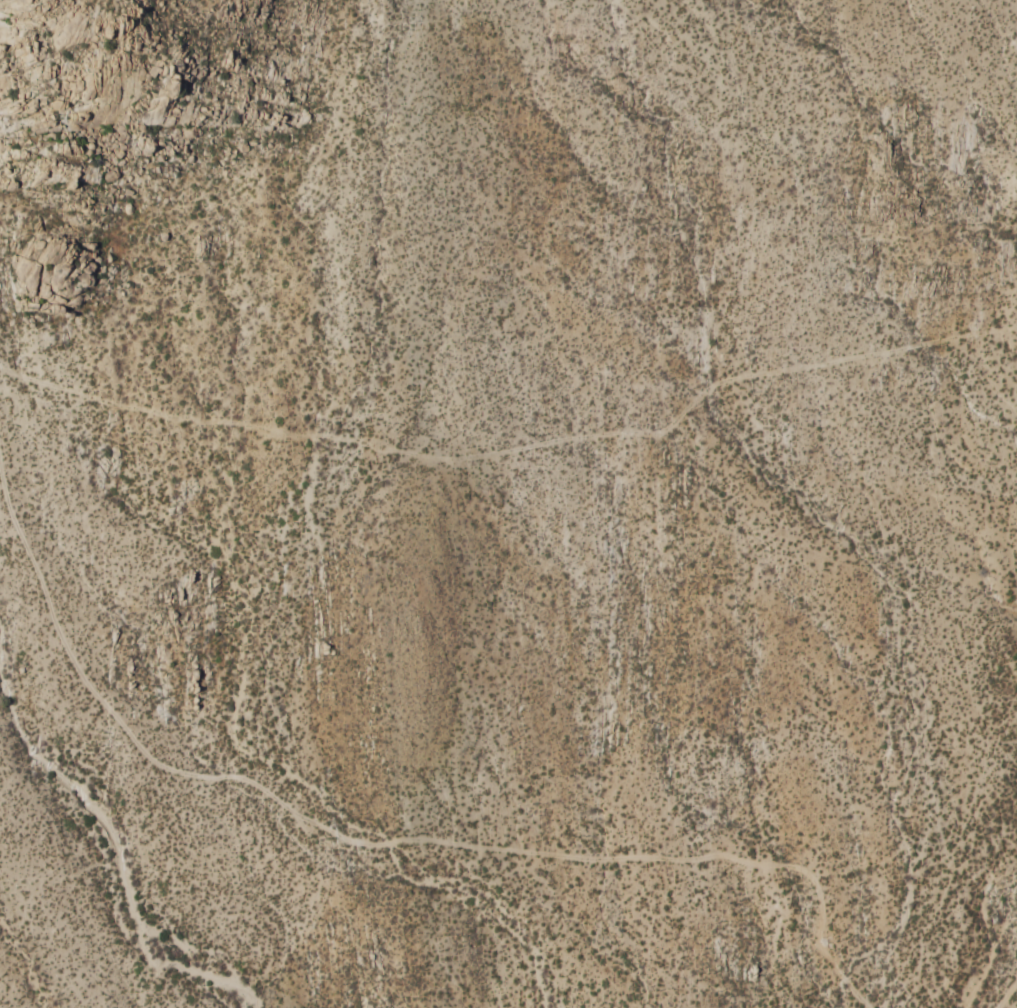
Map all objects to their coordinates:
road: (514, 448)
road: (383, 842)
road: (842, 870)
road: (1006, 995)

